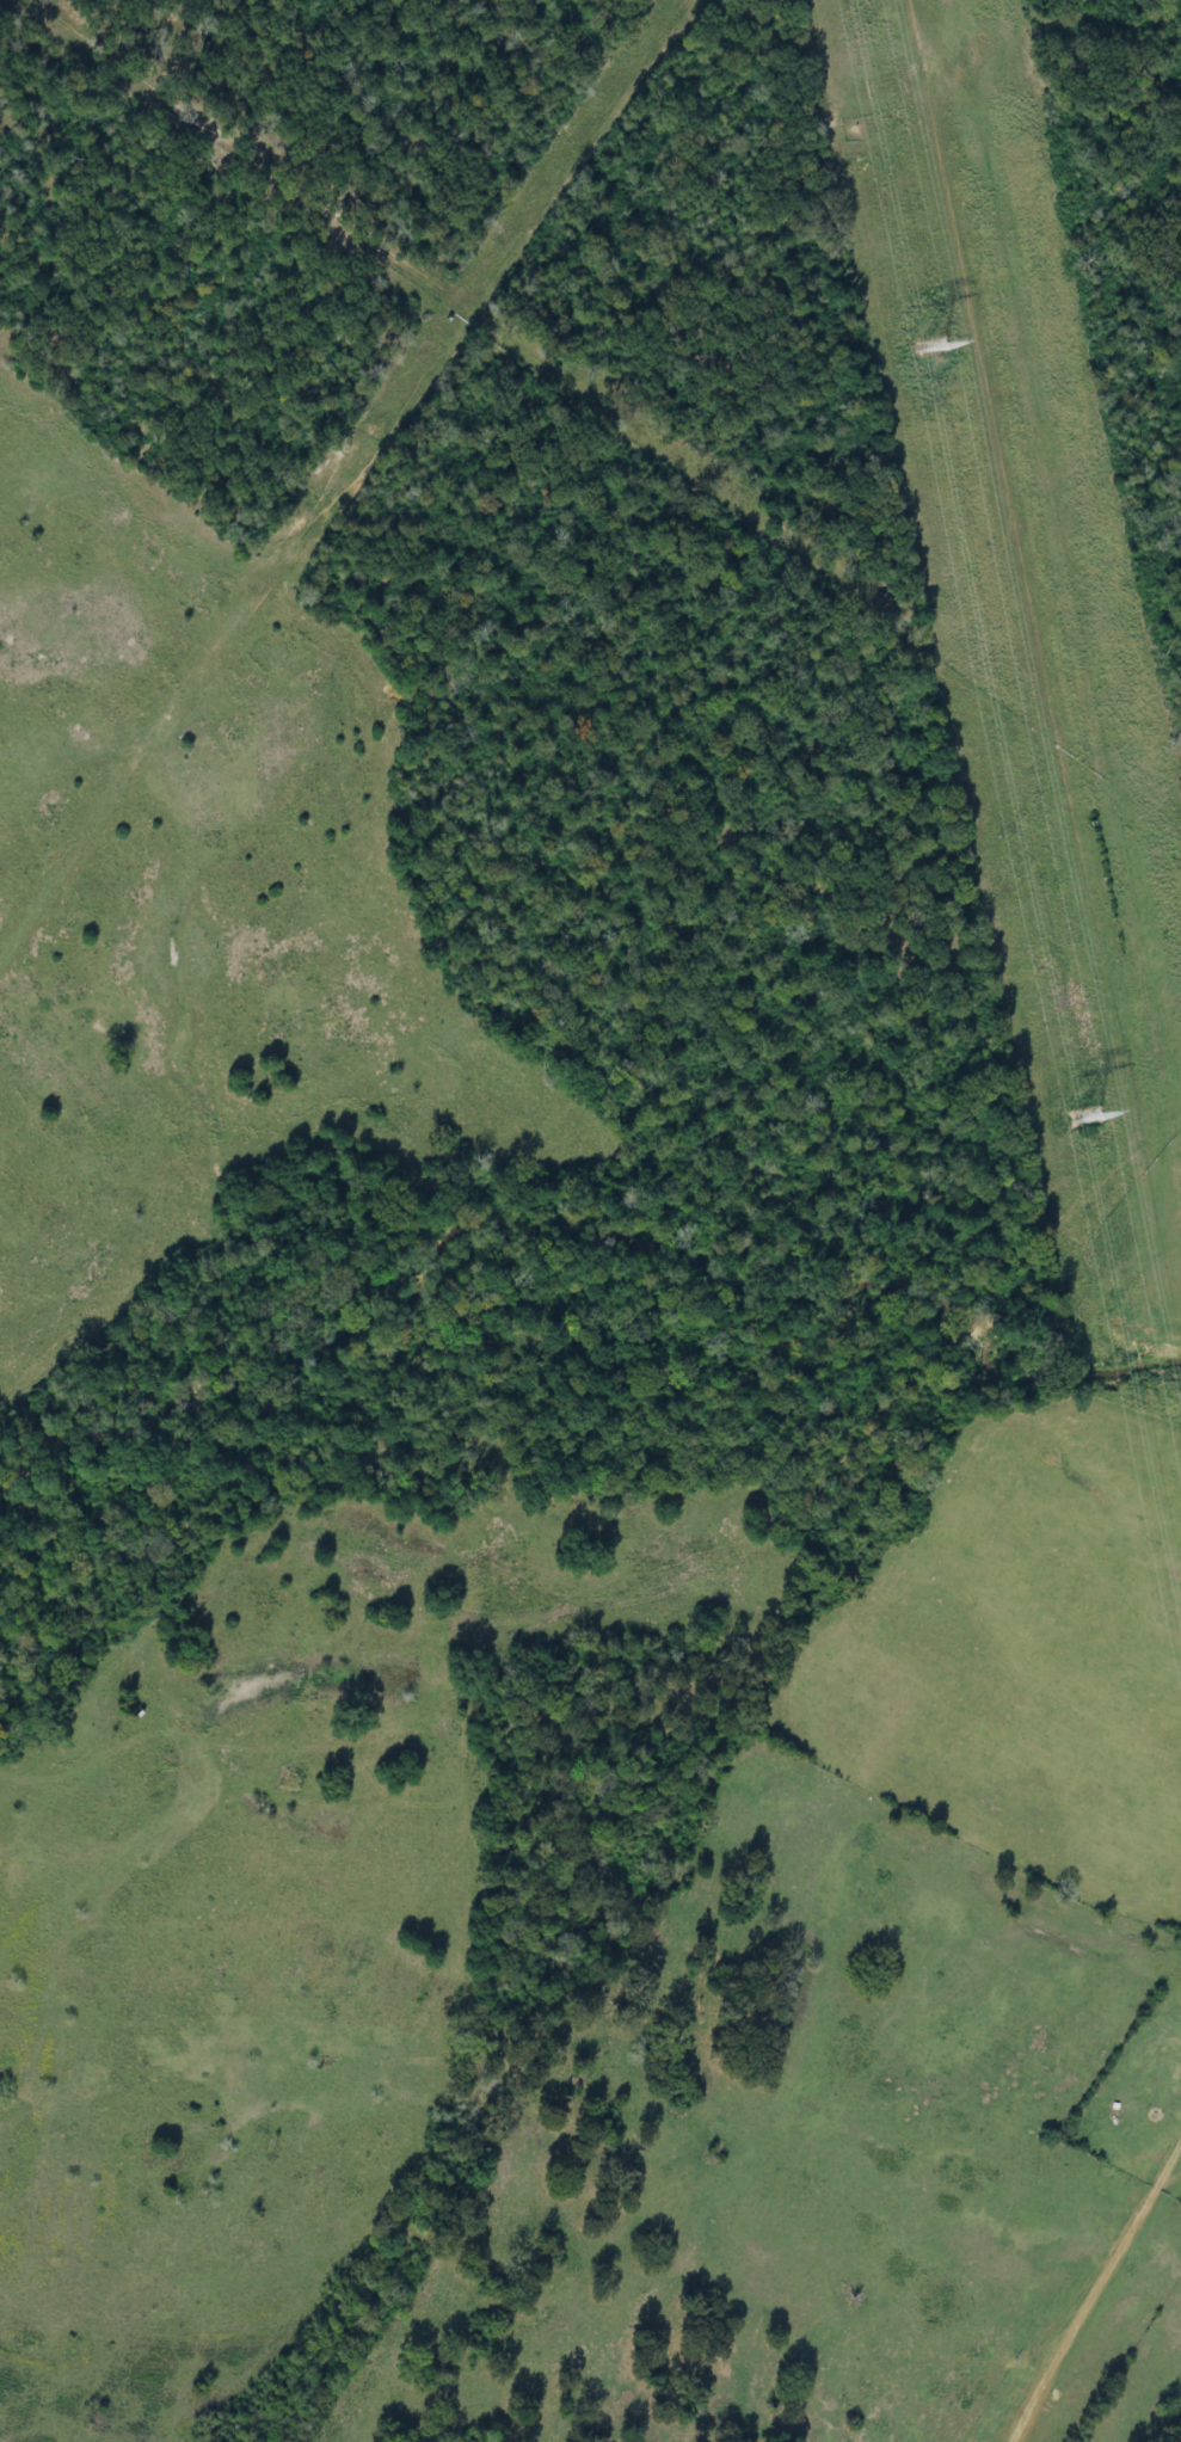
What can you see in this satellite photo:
railway: (1149, 217)
power tower: (934, 345)
power tower: (1087, 1117)

